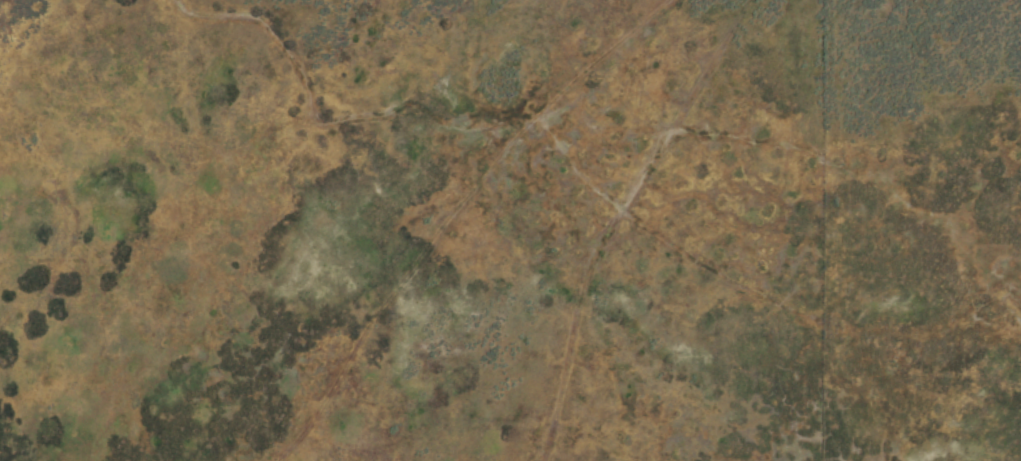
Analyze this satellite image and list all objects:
road: (652, 226)
crop: (510, 230)

